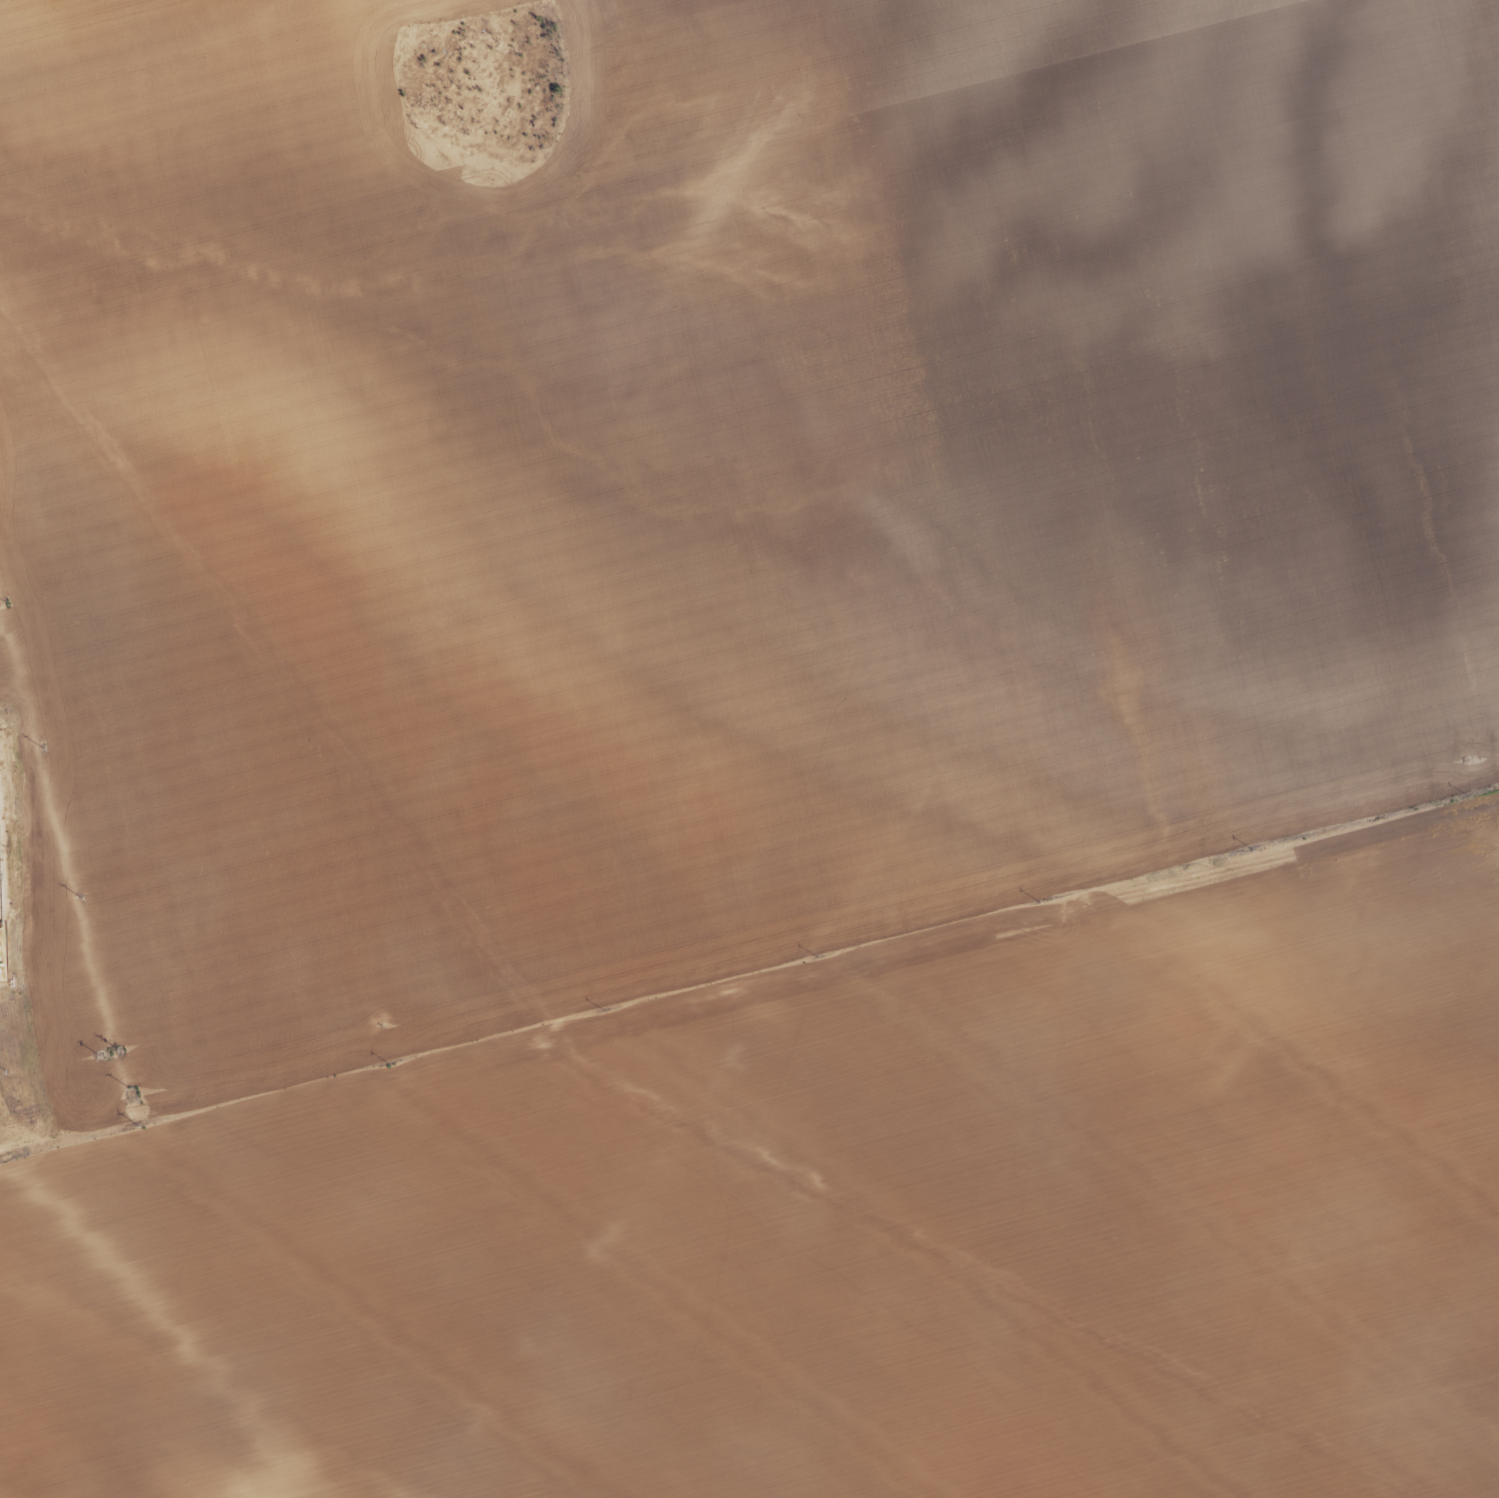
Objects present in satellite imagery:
road: (15, 1161)

